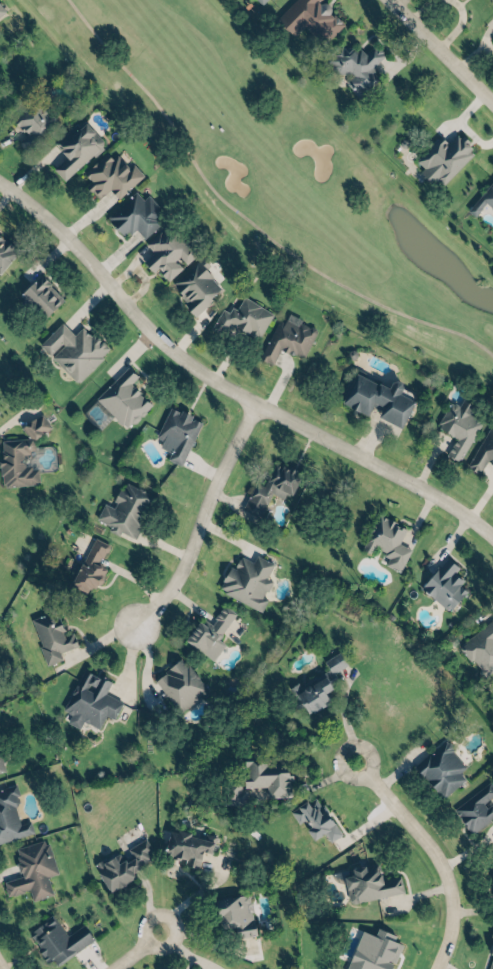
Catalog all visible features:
building: (492, 0)
building: (259, 1)
building: (1, 8)
building: (308, 18)
building: (492, 34)
road: (445, 45)
building: (355, 66)
building: (31, 123)
building: (75, 148)
building: (441, 160)
building: (109, 175)
building: (484, 199)
building: (135, 215)
road: (243, 224)
building: (5, 250)
building: (166, 252)
building: (195, 285)
building: (41, 296)
building: (242, 318)
building: (286, 338)
building: (67, 351)
road: (226, 380)
building: (121, 398)
building: (377, 398)
building: (456, 426)
building: (175, 433)
building: (482, 451)
building: (22, 452)
building: (269, 487)
building: (126, 510)
road: (203, 516)
building: (385, 541)
building: (89, 566)
building: (242, 583)
building: (443, 585)
building: (208, 630)
building: (50, 636)
building: (480, 648)
building: (332, 663)
building: (178, 684)
building: (311, 692)
building: (88, 700)
building: (1, 764)
building: (439, 768)
building: (265, 775)
building: (230, 794)
building: (475, 807)
building: (9, 816)
building: (314, 820)
building: (186, 846)
road: (438, 852)
building: (129, 866)
building: (30, 870)
building: (369, 883)
building: (492, 883)
building: (235, 914)
building: (57, 939)
road: (137, 950)
road: (6, 958)
building: (490, 959)
building: (197, 968)

